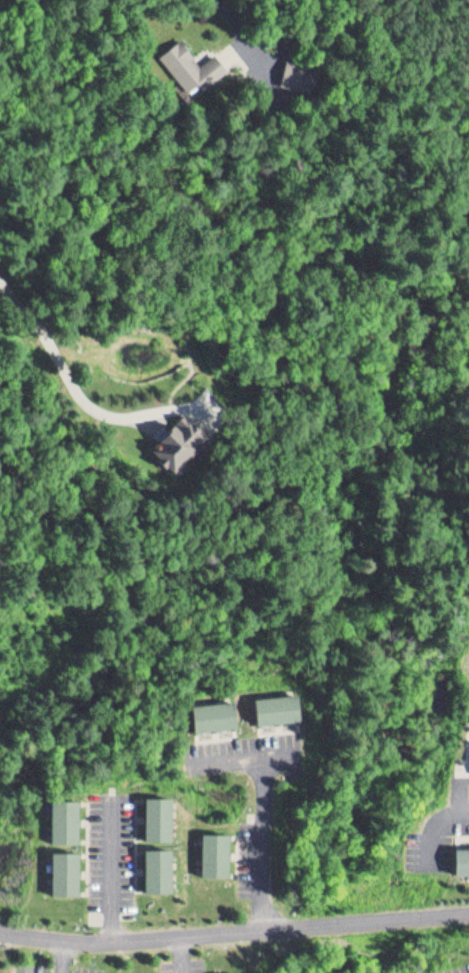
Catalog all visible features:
building: (188, 61)
building: (291, 69)
road: (76, 382)
building: (179, 440)
building: (272, 703)
building: (210, 711)
parking lot: (242, 748)
road: (245, 752)
building: (153, 812)
building: (62, 817)
road: (437, 822)
parking lot: (437, 828)
road: (263, 839)
parking lot: (112, 846)
building: (214, 850)
parking lot: (245, 853)
building: (461, 854)
building: (153, 864)
road: (112, 865)
building: (61, 866)
road: (234, 929)
road: (181, 953)
road: (64, 954)
parking lot: (185, 963)
parking lot: (61, 966)
building: (229, 972)

